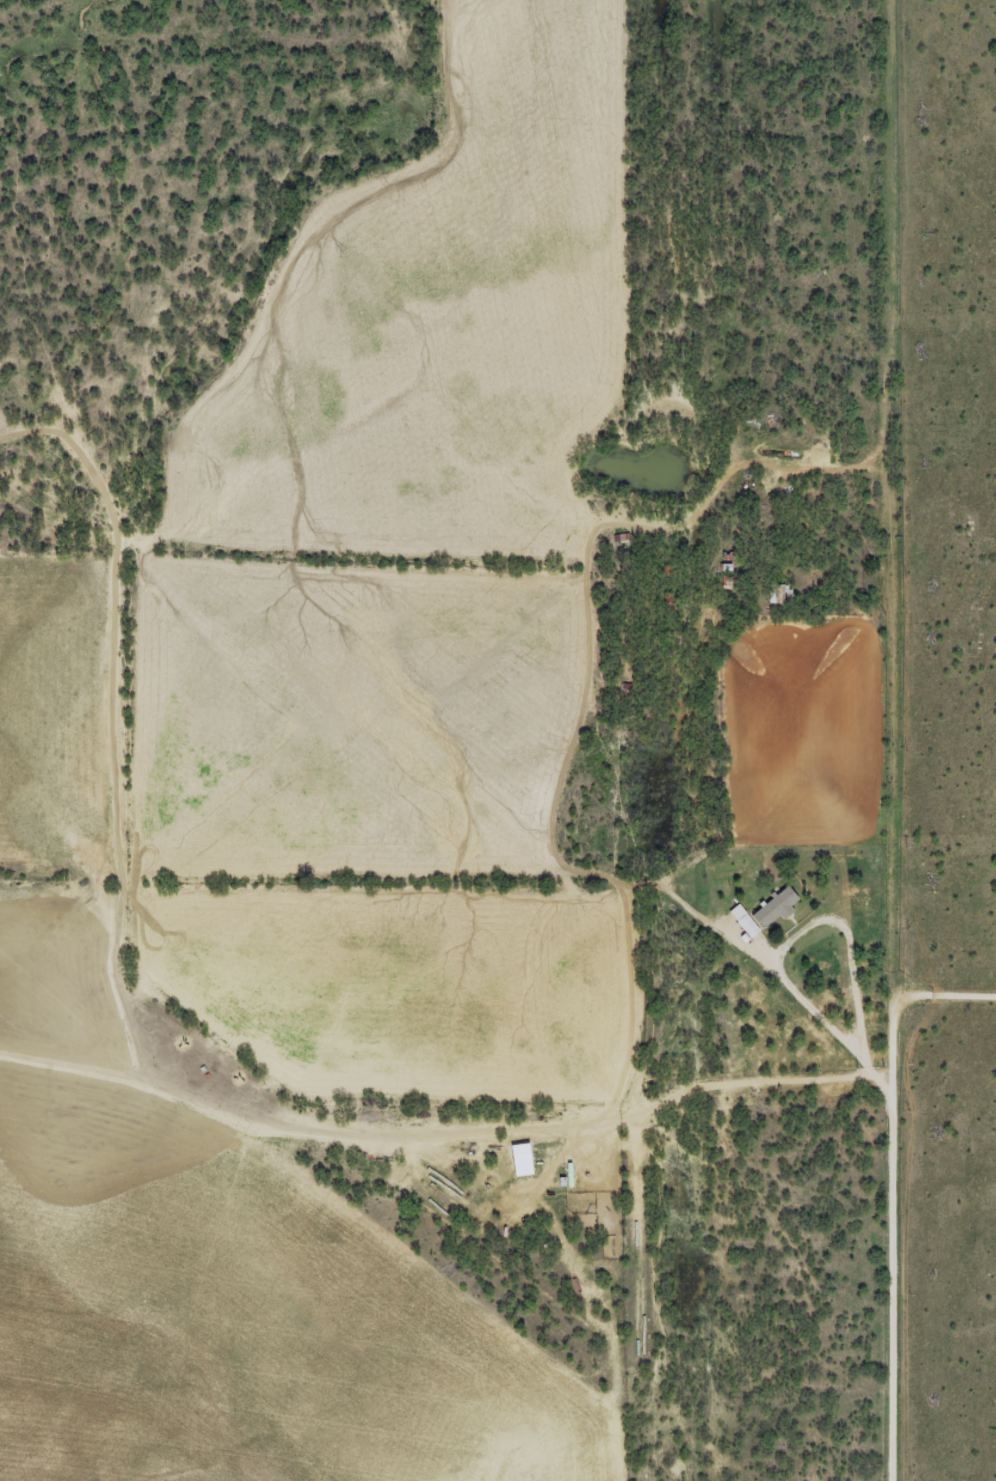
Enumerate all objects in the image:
building: (778, 595)
road: (926, 740)
building: (762, 914)
road: (962, 1019)

